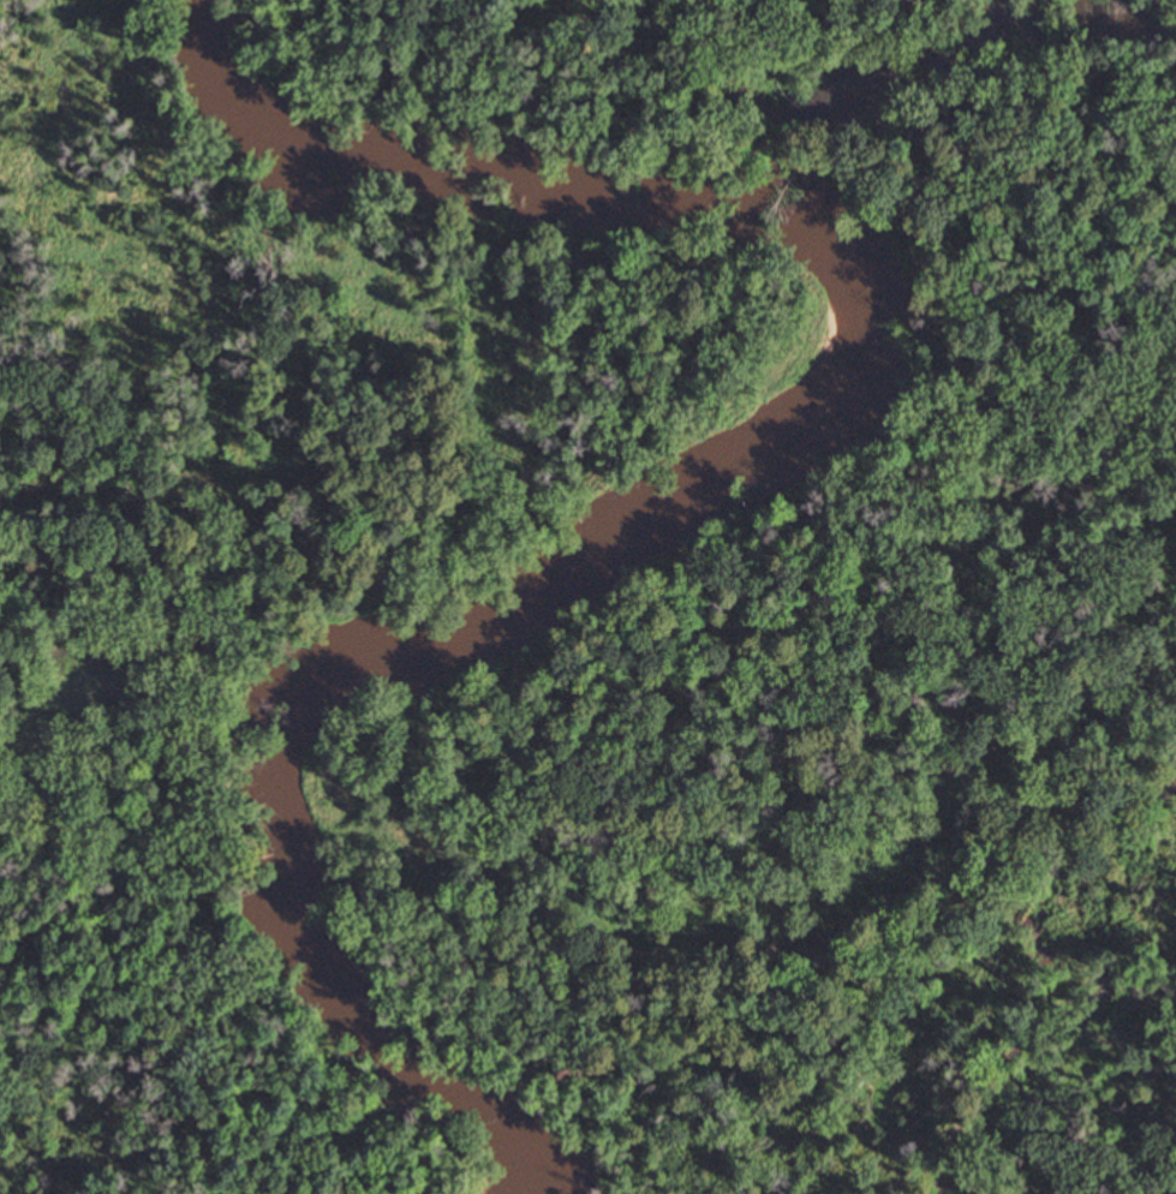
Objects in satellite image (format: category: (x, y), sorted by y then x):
river: (718, 597)

